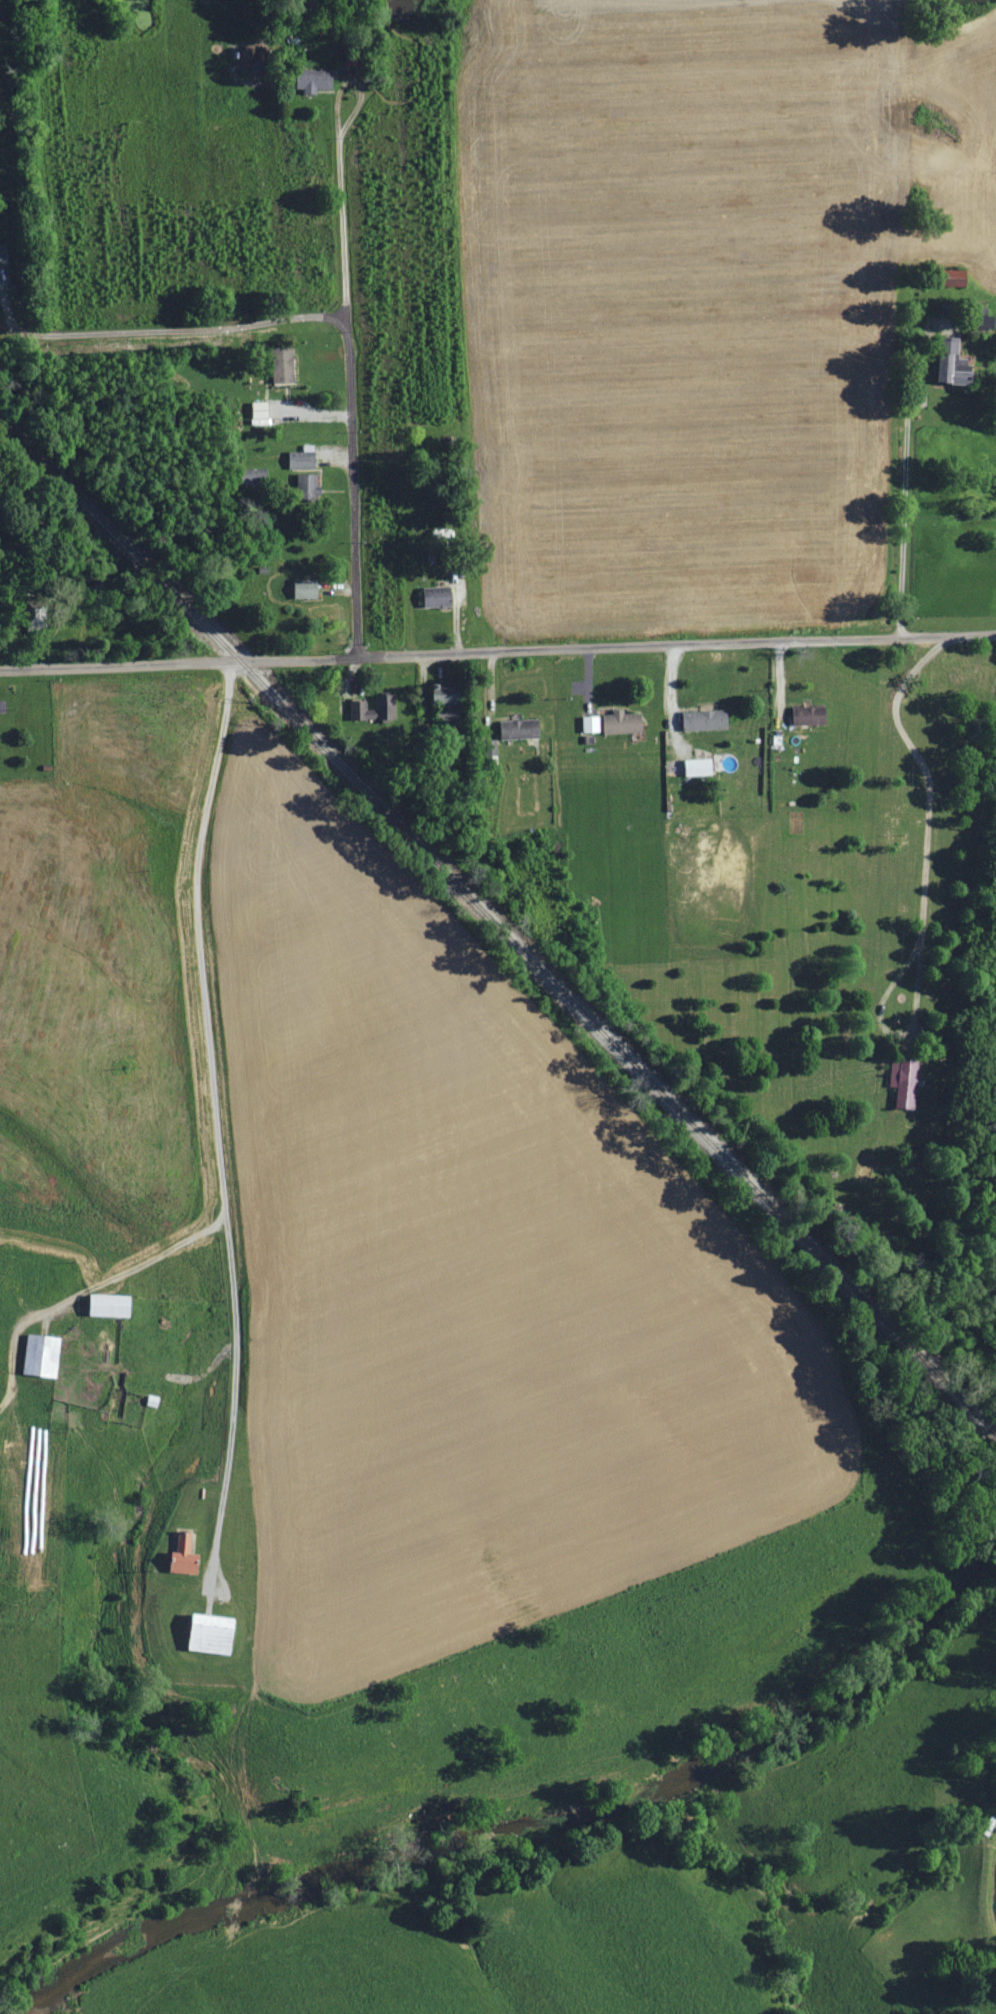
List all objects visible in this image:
building: (315, 81)
building: (3, 259)
road: (180, 330)
building: (283, 366)
building: (955, 367)
road: (349, 374)
building: (260, 409)
building: (302, 459)
building: (306, 486)
road: (903, 496)
building: (306, 590)
building: (438, 596)
road: (497, 650)
road: (670, 702)
building: (450, 704)
building: (370, 708)
building: (806, 716)
building: (705, 720)
building: (622, 722)
building: (591, 724)
building: (520, 729)
building: (699, 767)
road: (926, 826)
railway: (495, 922)
building: (905, 1080)
road: (217, 1120)
building: (42, 1355)
railway: (991, 1434)
building: (185, 1555)
building: (213, 1633)
river: (492, 1835)

